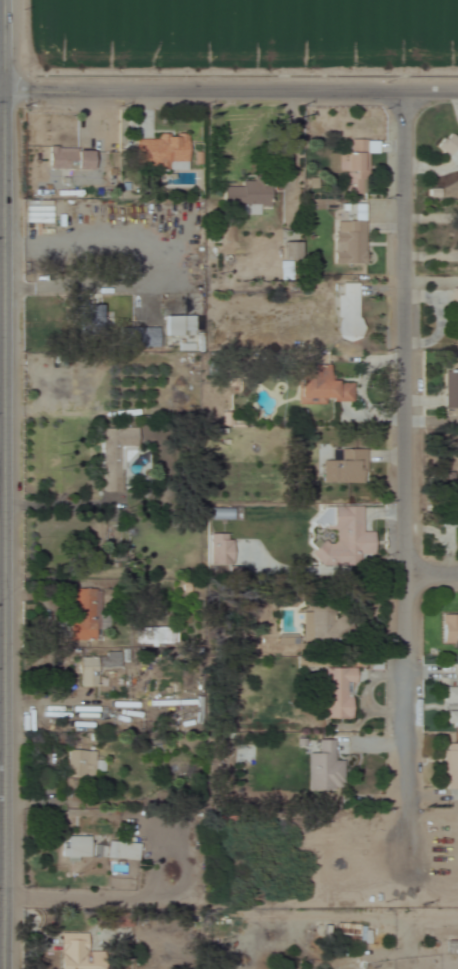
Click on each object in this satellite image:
crop: (243, 34)
road: (229, 84)
building: (448, 141)
building: (158, 153)
building: (67, 160)
building: (354, 165)
building: (245, 194)
building: (37, 213)
building: (347, 234)
building: (289, 252)
building: (346, 311)
building: (454, 313)
building: (171, 315)
road: (401, 328)
building: (145, 338)
building: (312, 387)
building: (450, 390)
building: (116, 457)
building: (342, 466)
road: (3, 484)
building: (448, 510)
building: (340, 537)
building: (217, 550)
road: (431, 577)
building: (83, 615)
building: (323, 625)
building: (449, 631)
building: (152, 636)
road: (406, 662)
building: (93, 669)
building: (336, 694)
building: (450, 695)
building: (453, 721)
building: (78, 764)
building: (450, 766)
building: (322, 768)
building: (74, 847)
building: (116, 851)
building: (348, 934)
building: (425, 948)
building: (451, 948)
building: (75, 952)
road: (405, 952)

